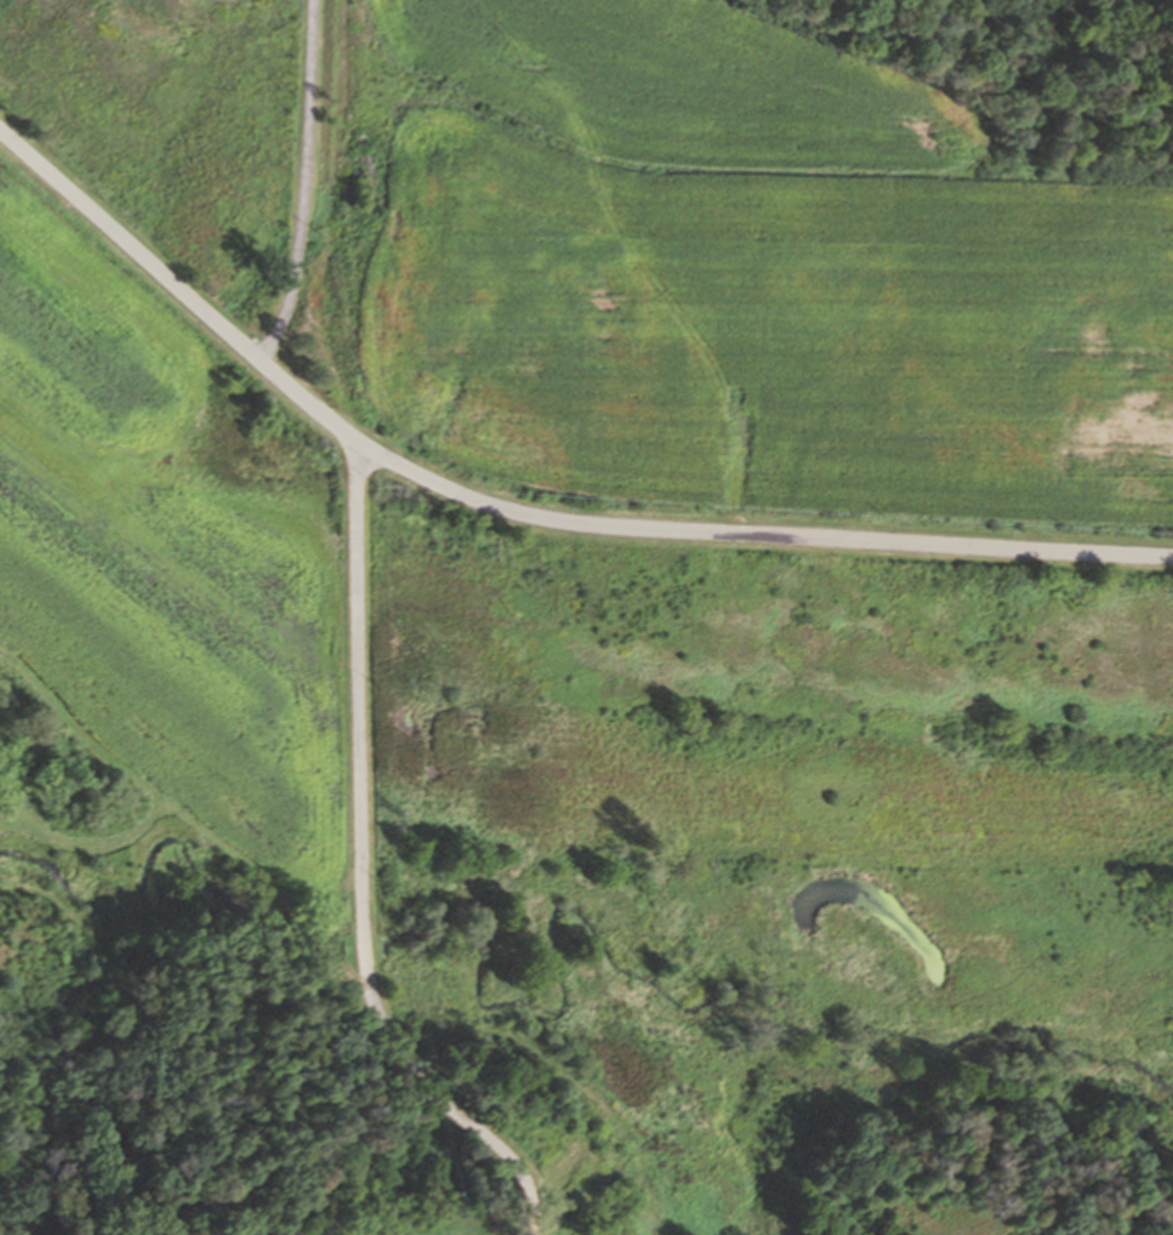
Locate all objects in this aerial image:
road: (304, 184)
road: (520, 512)
road: (363, 869)
building: (596, 1234)

